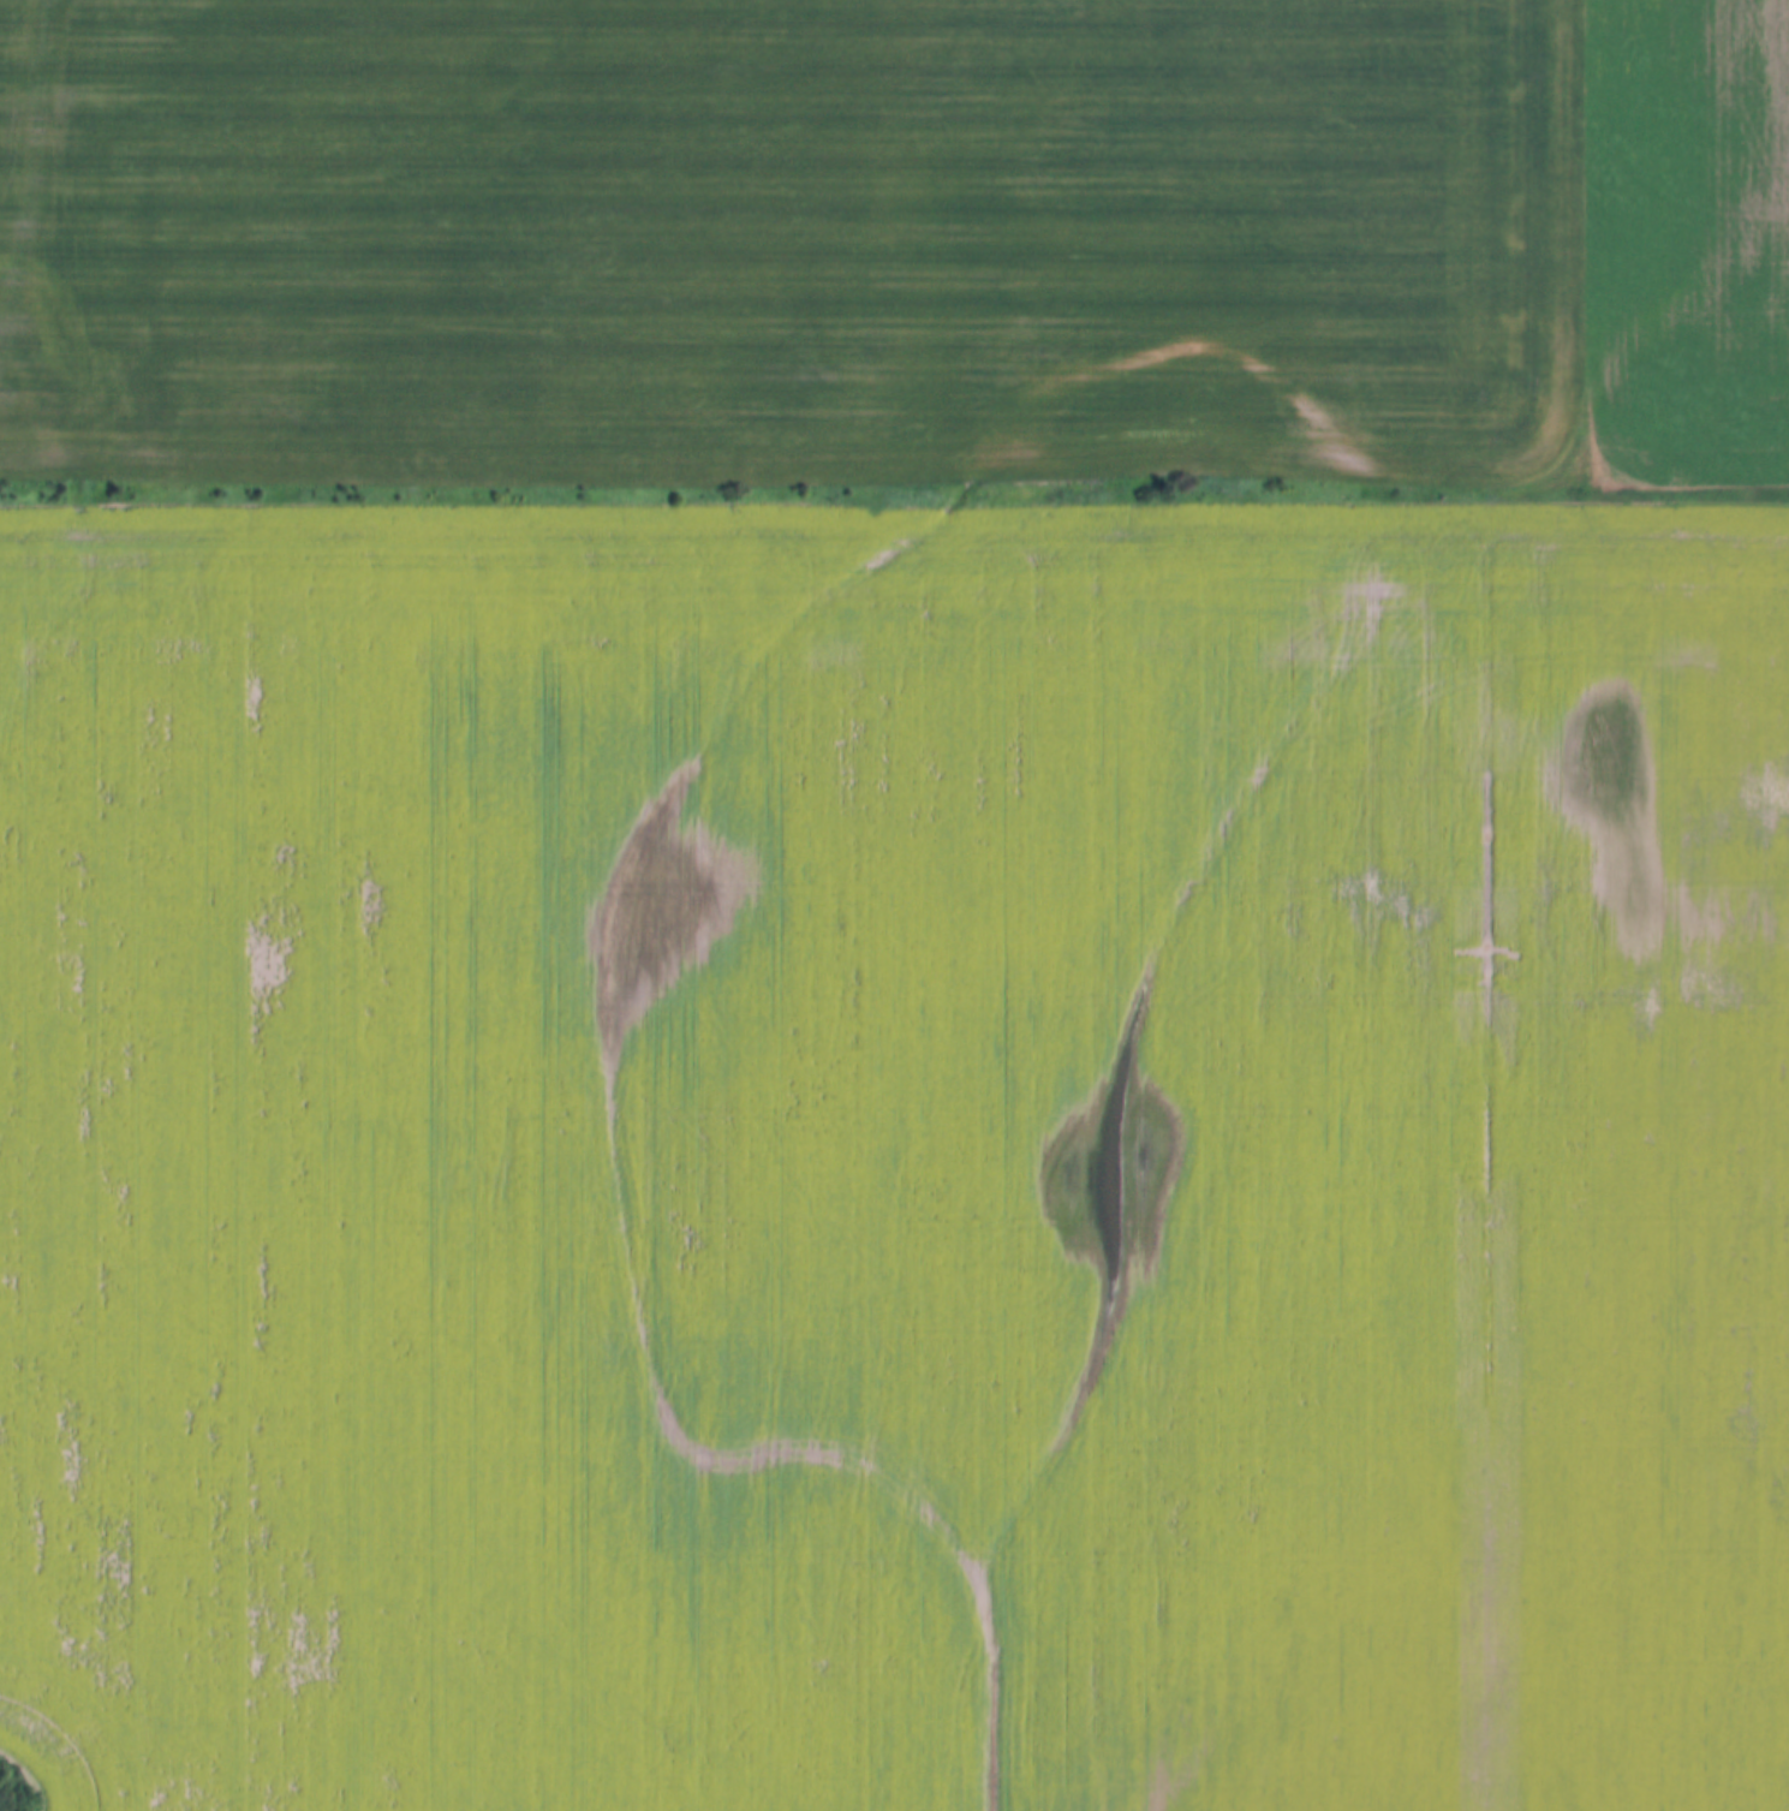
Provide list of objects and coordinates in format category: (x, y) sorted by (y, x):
crop: (789, 238)
crop: (1687, 239)
road: (32, 1769)

